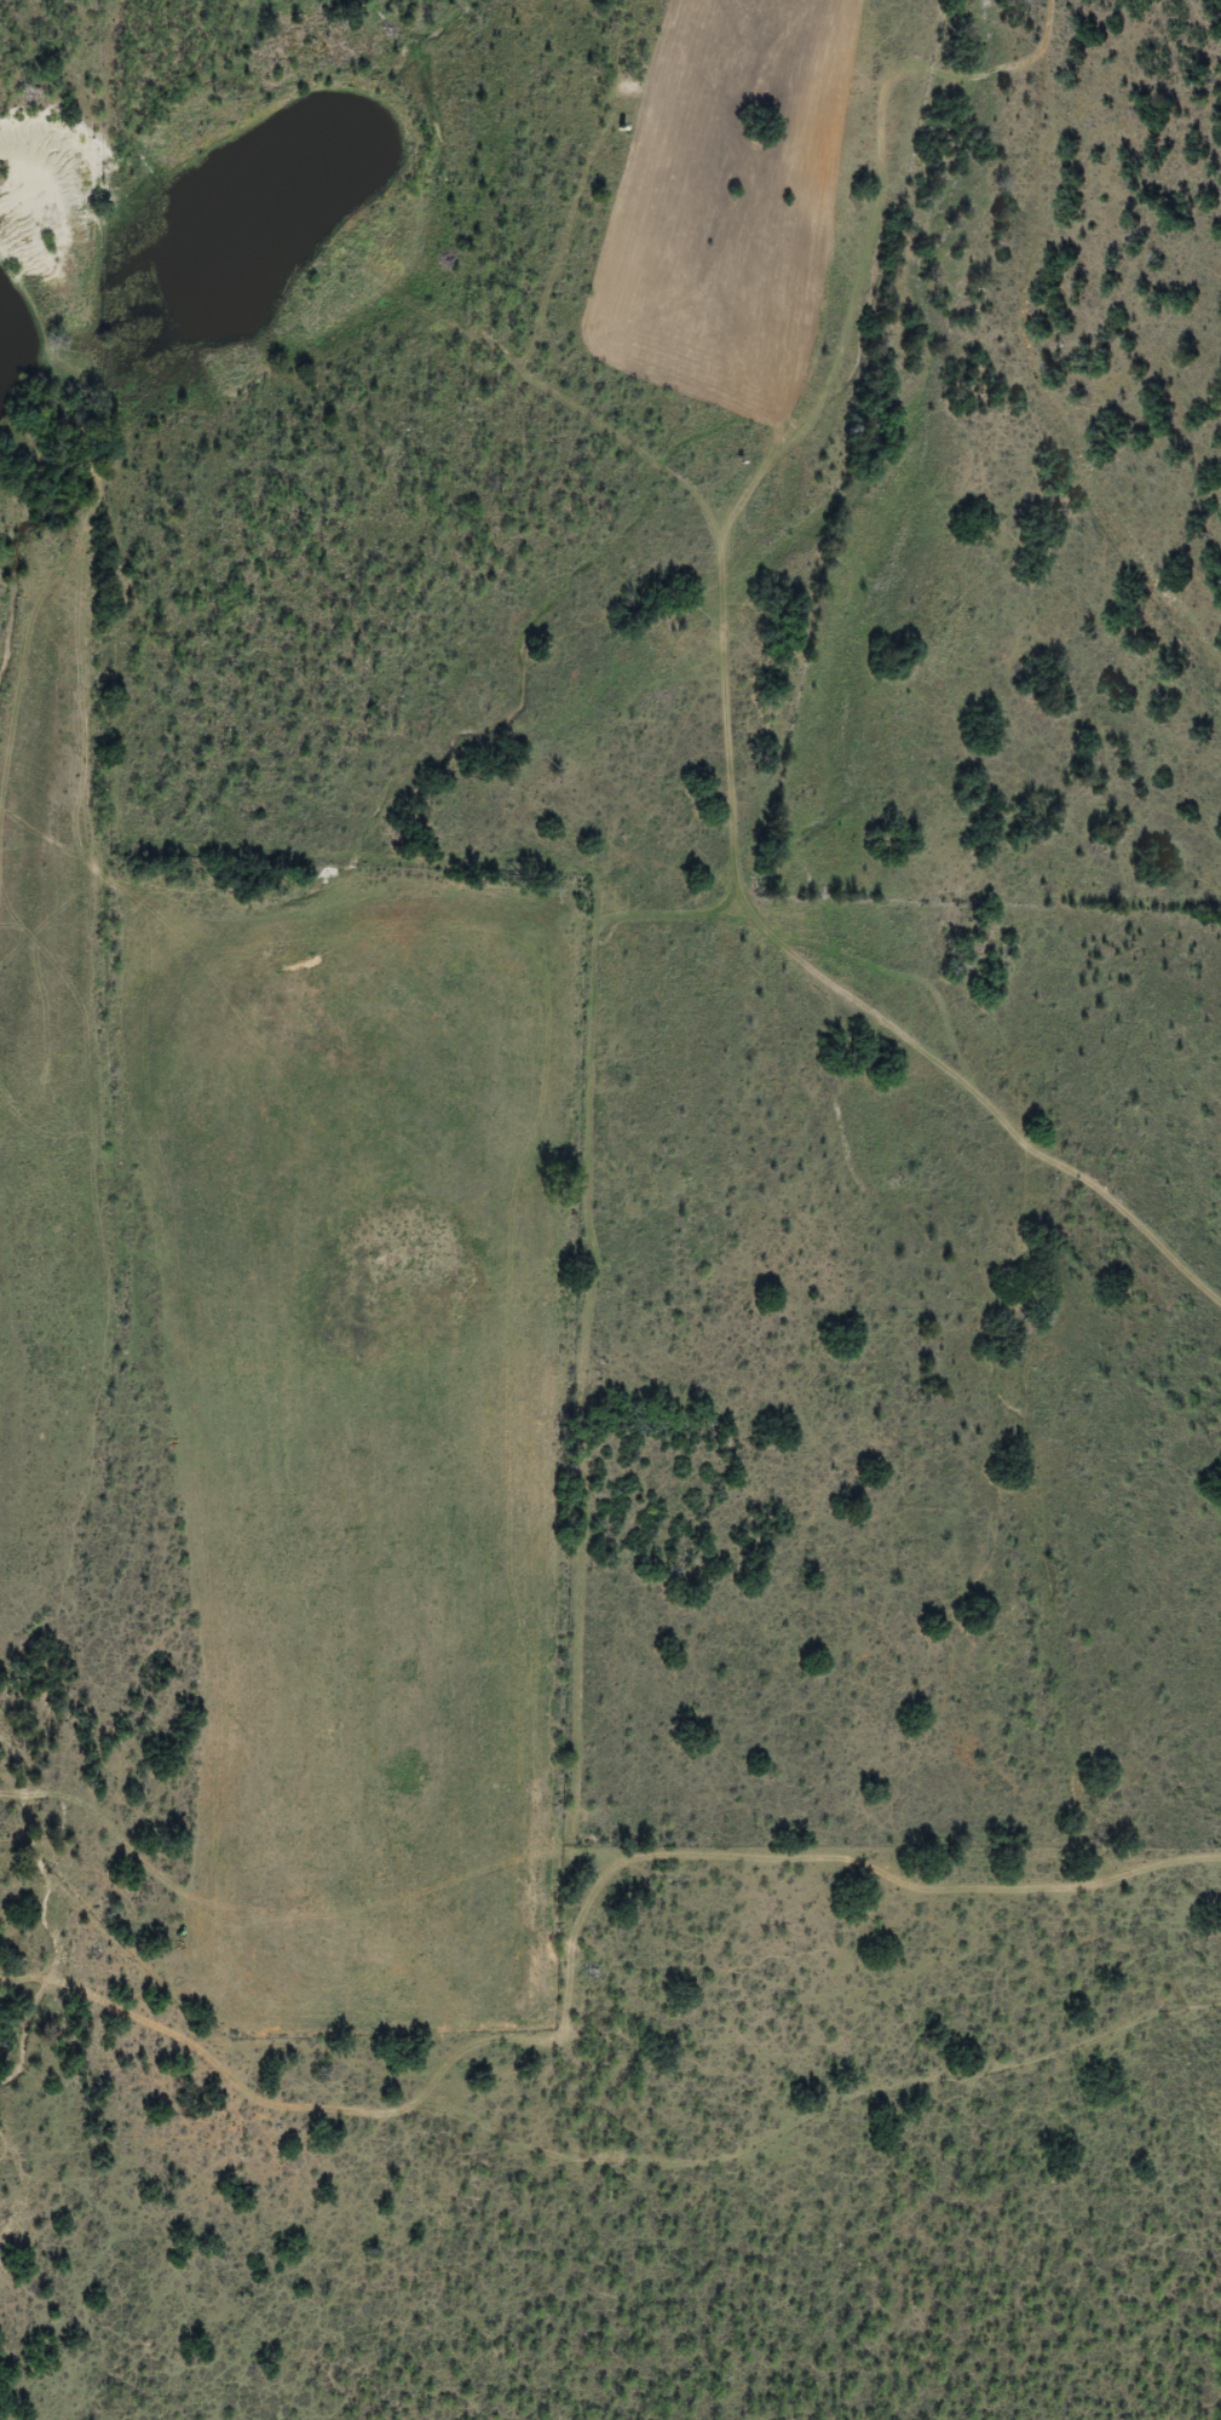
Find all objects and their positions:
road: (1038, 374)
road: (604, 2161)

